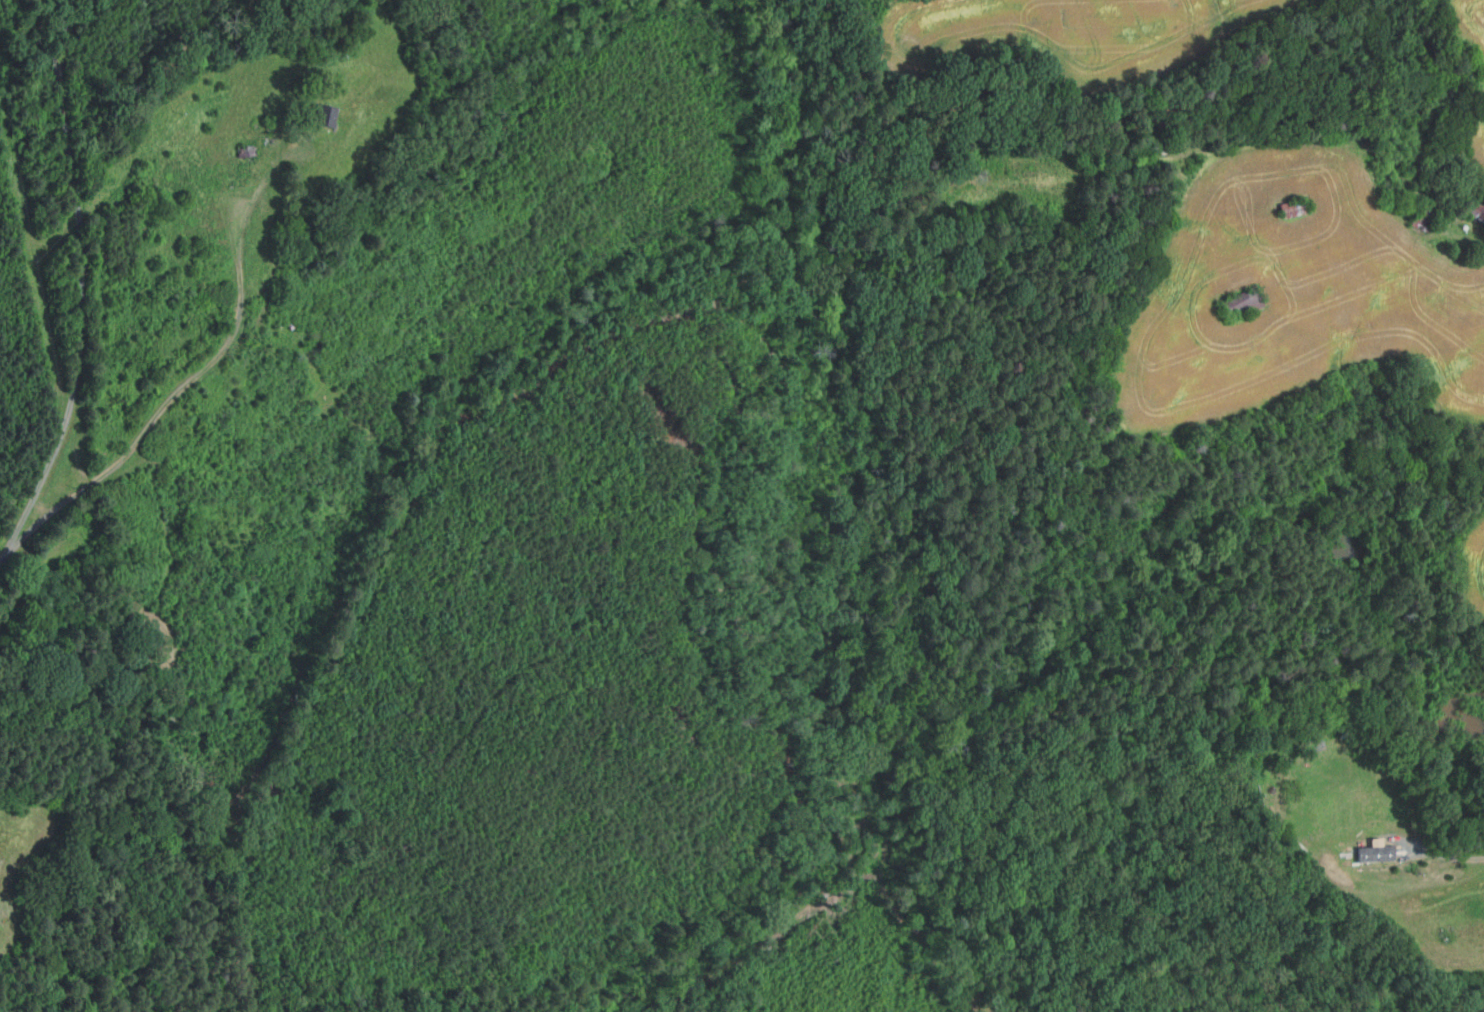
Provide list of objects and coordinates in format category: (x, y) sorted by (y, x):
building: (323, 114)
building: (1293, 209)
building: (1476, 210)
building: (1423, 219)
road: (1453, 234)
road: (78, 281)
building: (1242, 305)
building: (1314, 747)
building: (1374, 854)
road: (1444, 855)

